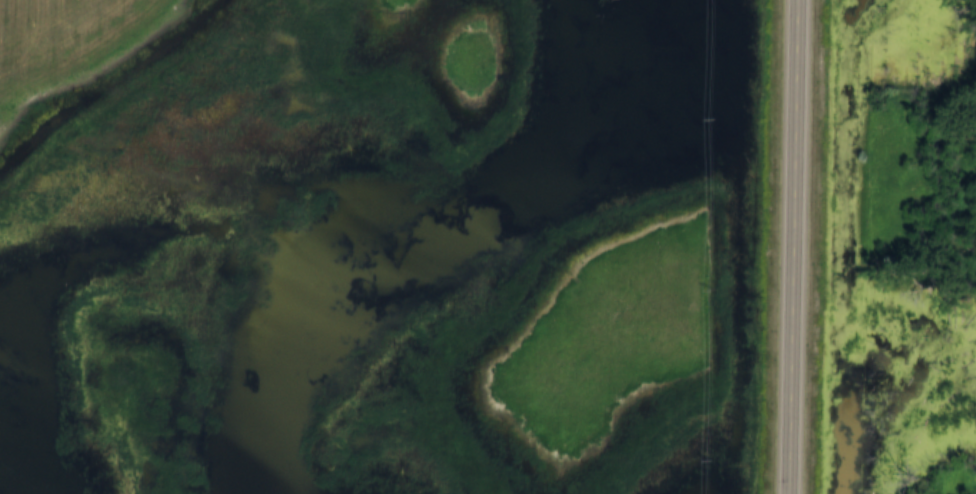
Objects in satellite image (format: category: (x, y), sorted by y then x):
road: (799, 247)

